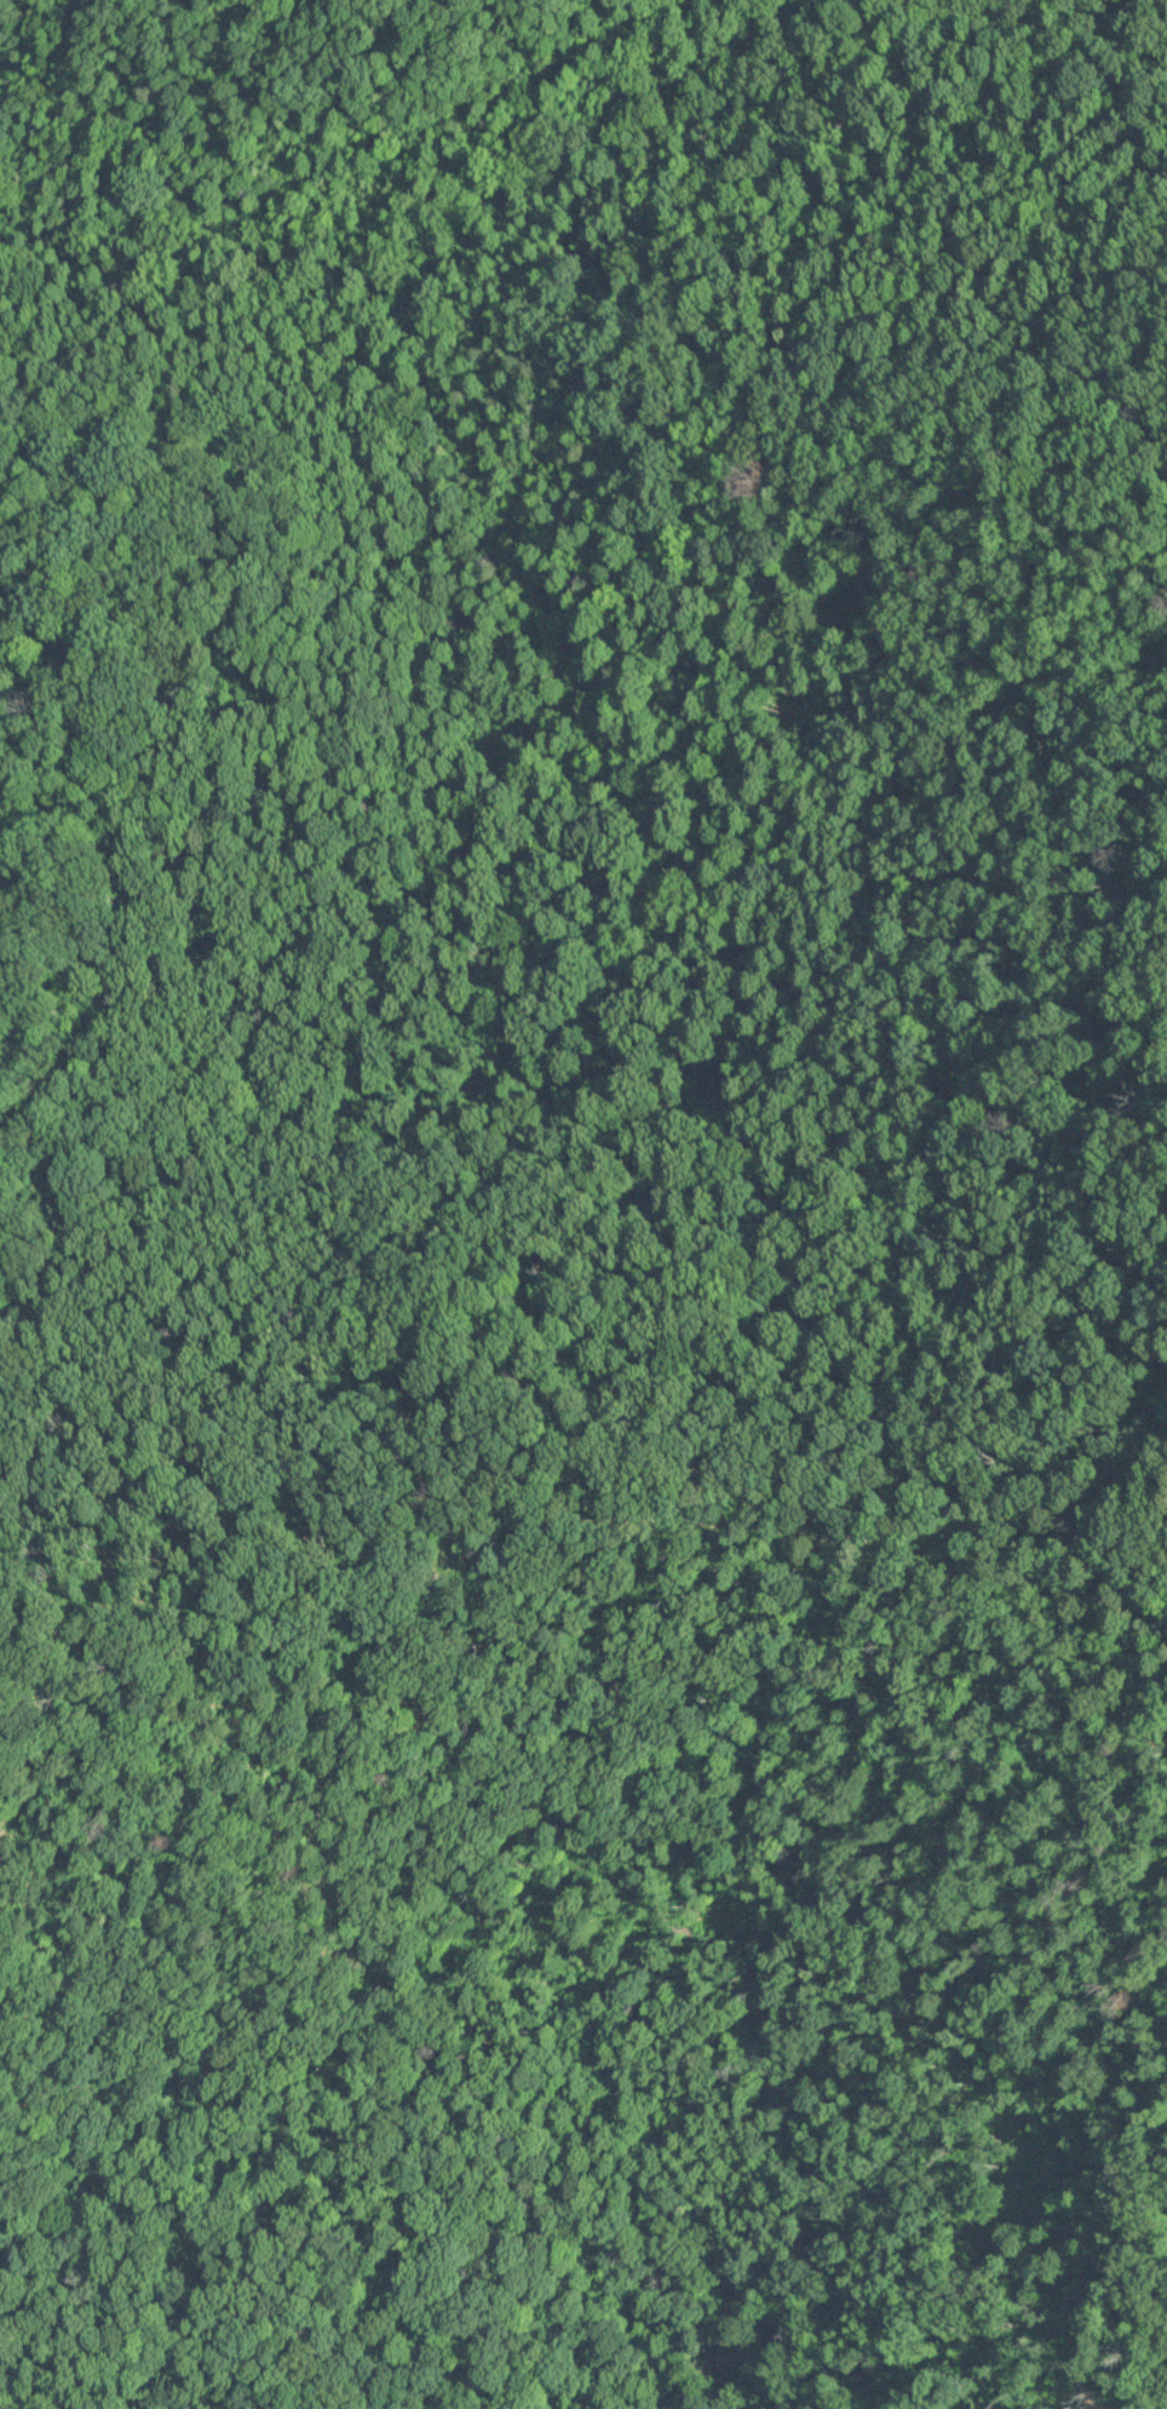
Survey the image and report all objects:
road: (360, 122)

